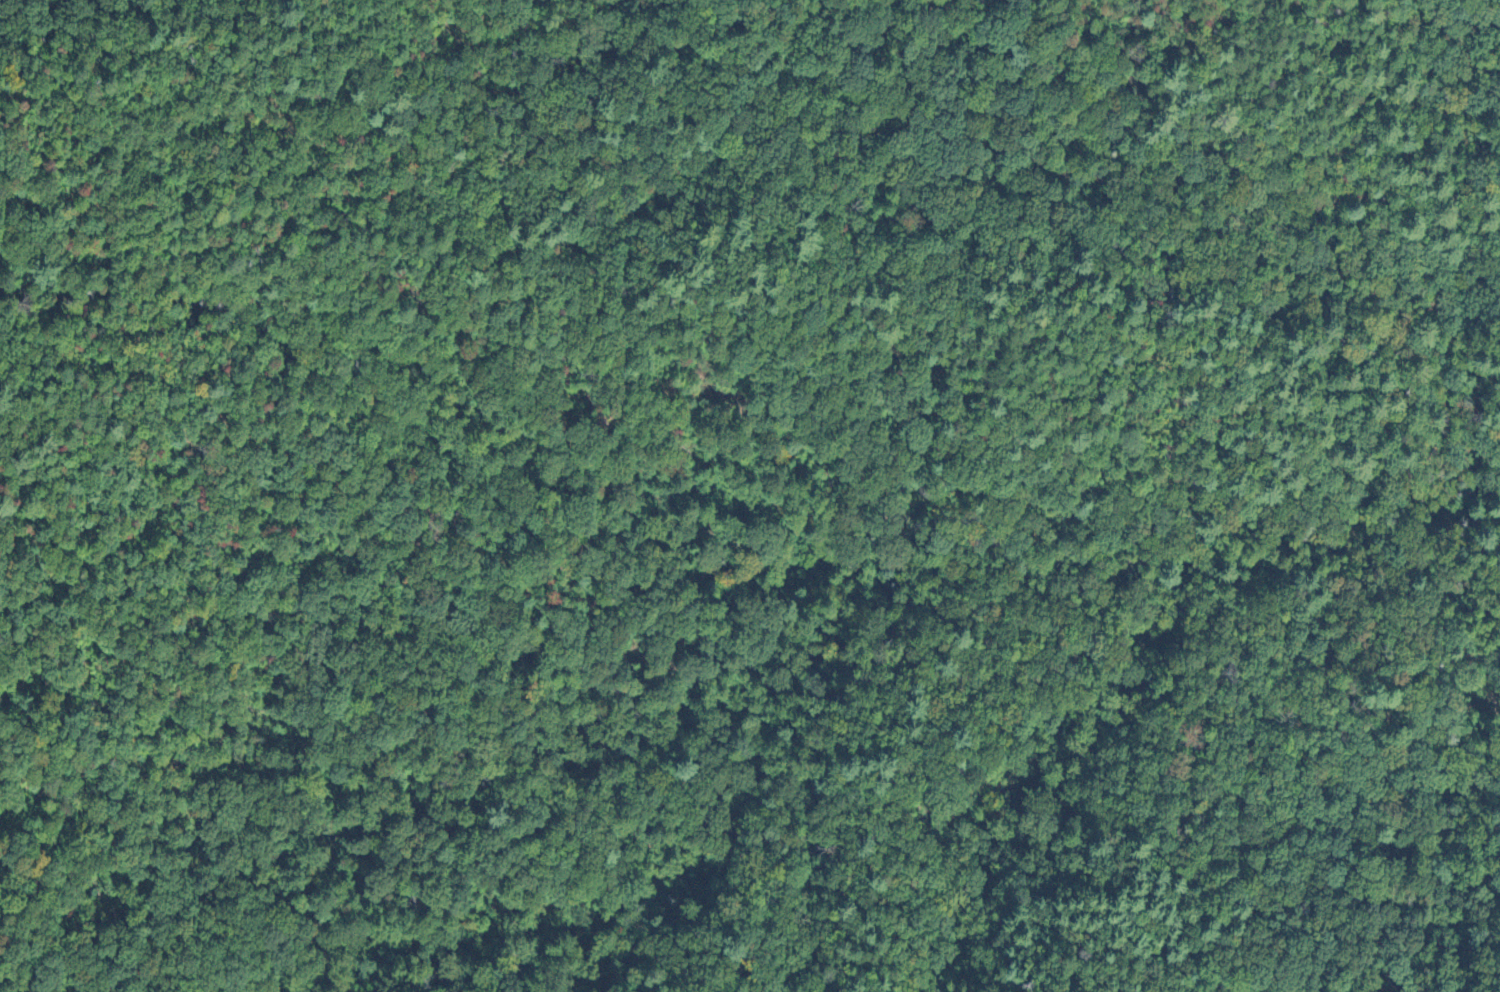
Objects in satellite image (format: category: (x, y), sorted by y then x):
road: (1469, 53)
road: (1379, 480)
road: (1486, 982)

